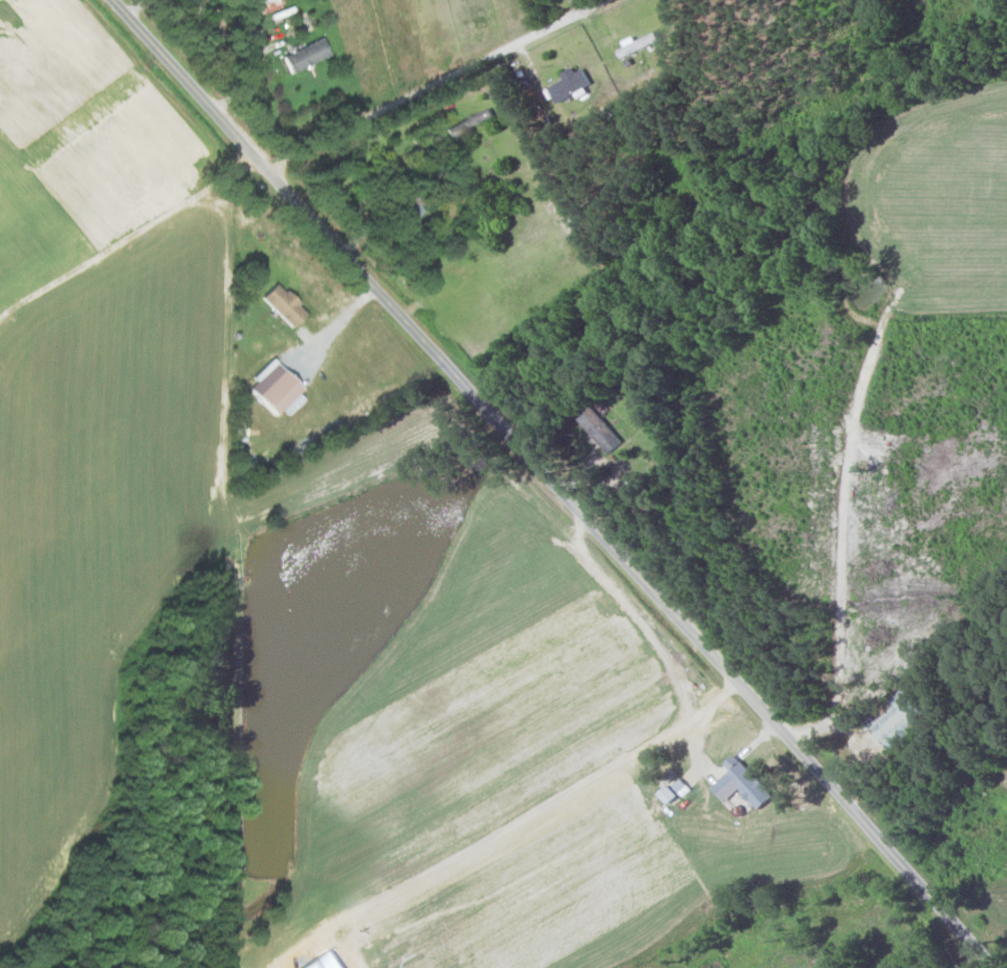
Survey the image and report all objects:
building: (266, 5)
building: (302, 55)
road: (253, 62)
building: (567, 84)
building: (468, 122)
road: (288, 156)
building: (282, 303)
road: (334, 325)
building: (599, 428)
road: (557, 483)
road: (841, 524)
building: (897, 718)
building: (741, 782)
building: (668, 793)

